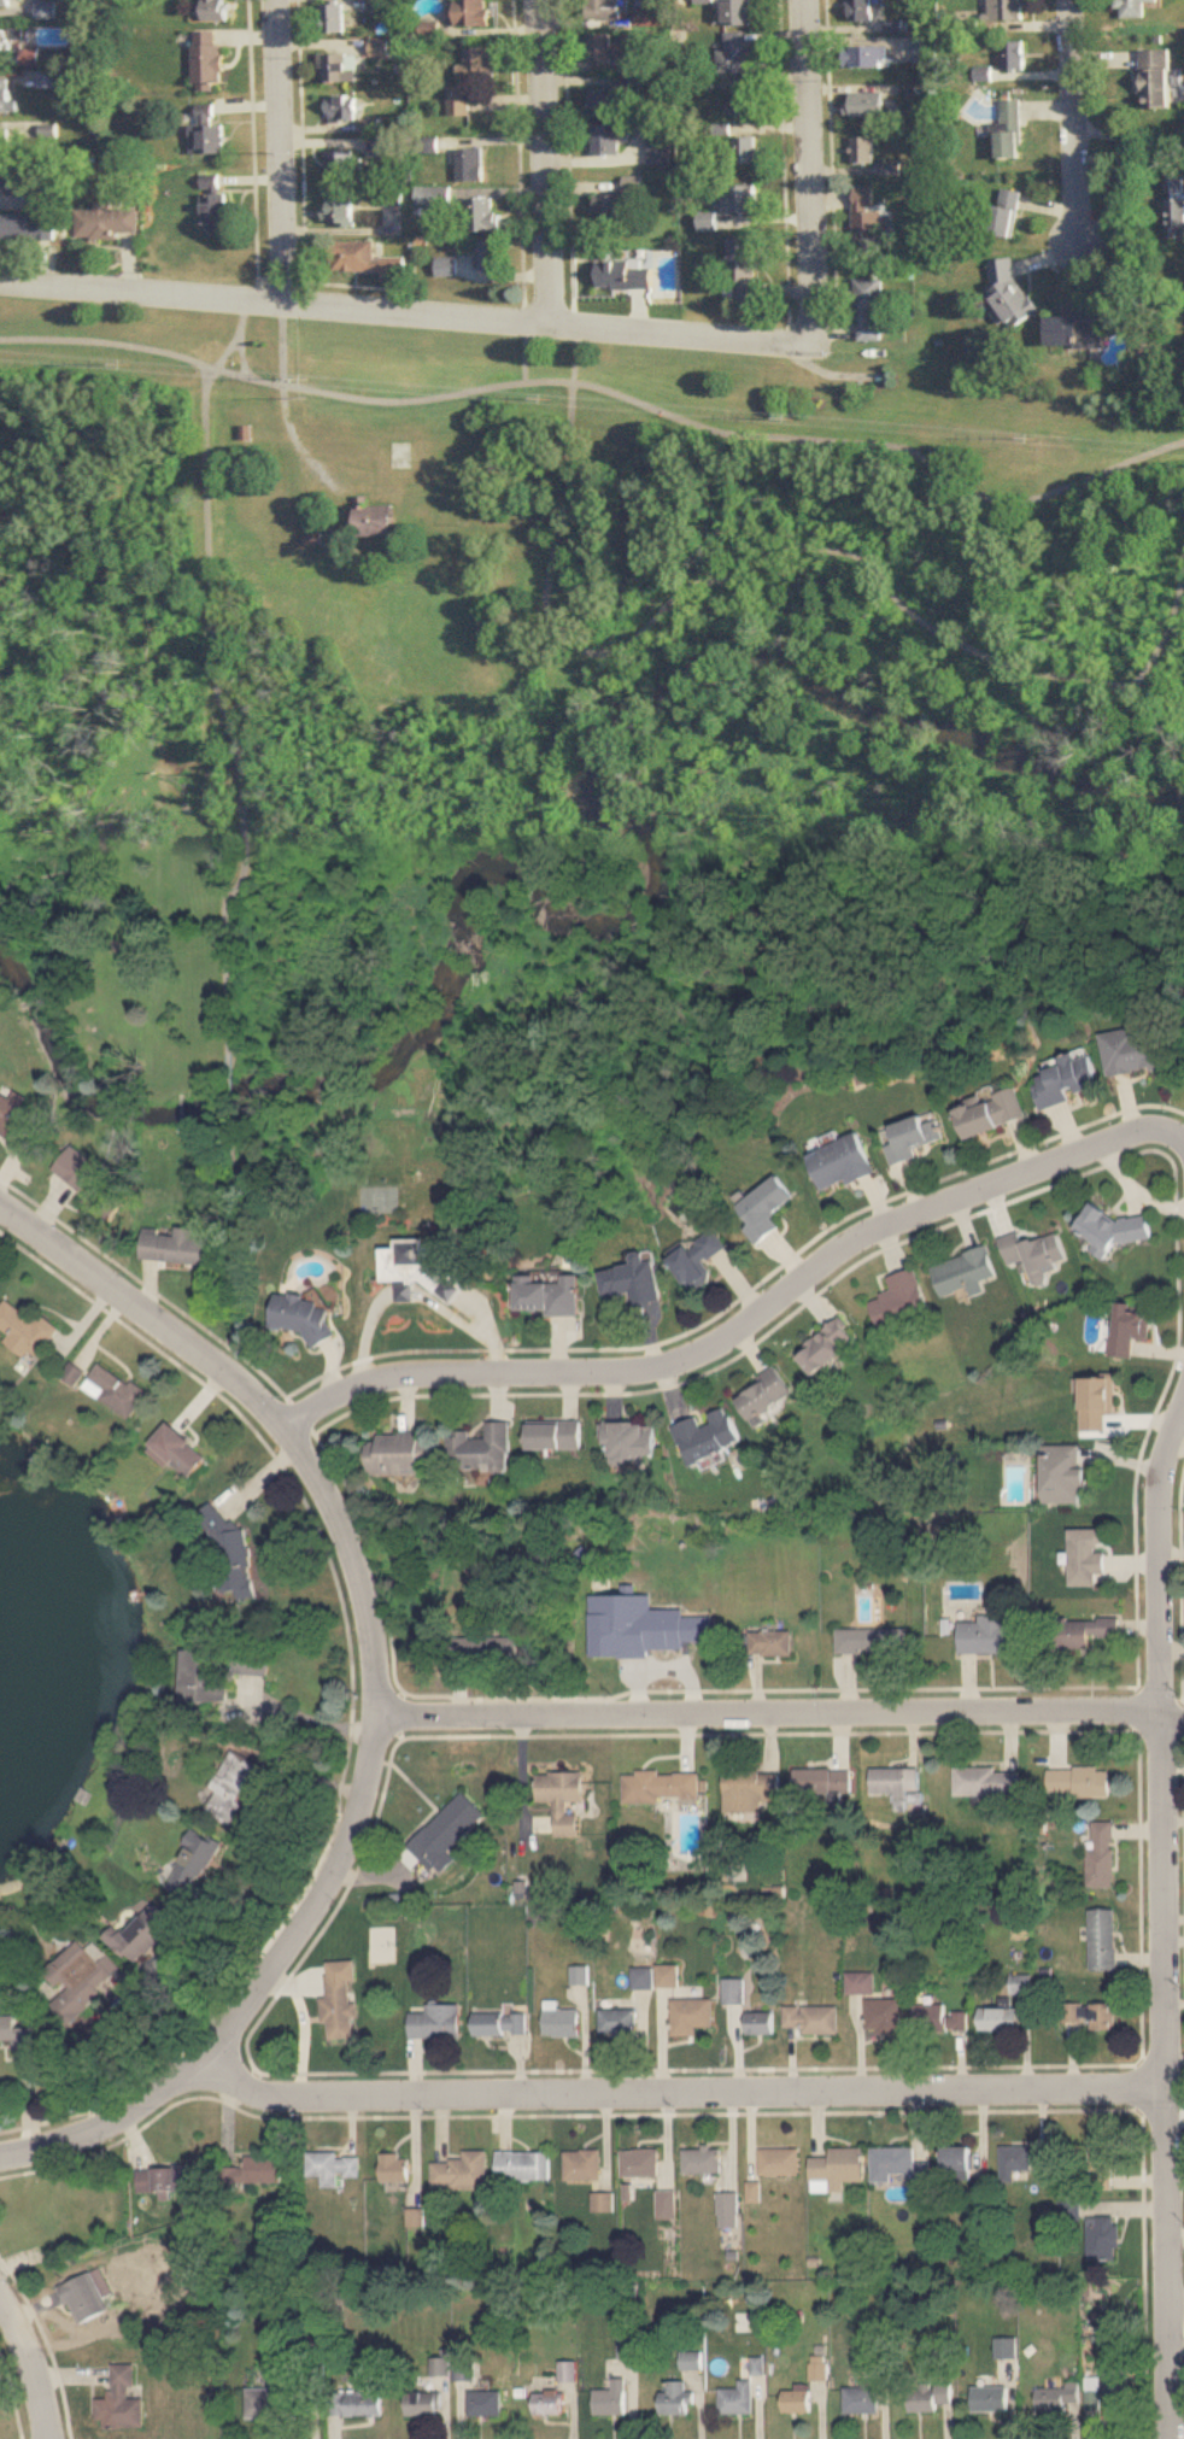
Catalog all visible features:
building: (12, 4)
building: (1133, 8)
building: (1010, 10)
building: (216, 11)
building: (605, 11)
building: (862, 11)
building: (739, 12)
building: (475, 13)
building: (334, 18)
building: (432, 30)
building: (10, 37)
building: (386, 49)
building: (603, 49)
building: (926, 51)
building: (735, 55)
building: (867, 57)
building: (1014, 57)
building: (30, 58)
building: (207, 63)
building: (339, 69)
building: (470, 78)
building: (51, 81)
building: (1156, 81)
building: (7, 98)
building: (744, 102)
building: (602, 104)
building: (869, 105)
building: (341, 109)
road: (1072, 123)
building: (1010, 131)
building: (206, 134)
road: (1127, 139)
building: (606, 141)
building: (5, 142)
building: (381, 147)
building: (864, 151)
road: (277, 152)
building: (660, 152)
building: (744, 152)
road: (543, 163)
building: (340, 165)
building: (470, 165)
road: (813, 170)
building: (7, 177)
building: (633, 184)
building: (391, 197)
building: (433, 197)
building: (742, 200)
building: (1174, 209)
building: (340, 211)
building: (611, 211)
building: (215, 213)
building: (1006, 213)
building: (481, 216)
building: (867, 219)
building: (708, 222)
building: (106, 223)
building: (28, 228)
building: (486, 254)
building: (363, 259)
building: (447, 266)
building: (744, 272)
building: (623, 275)
building: (869, 310)
road: (405, 313)
building: (1075, 333)
road: (234, 340)
road: (280, 345)
road: (522, 354)
road: (239, 358)
road: (604, 392)
building: (373, 520)
road: (792, 551)
road: (1074, 679)
park: (640, 705)
road: (225, 713)
river: (619, 922)
building: (1135, 1050)
building: (1067, 1079)
road: (227, 1091)
building: (992, 1113)
building: (20, 1124)
road: (1149, 1128)
building: (913, 1137)
building: (842, 1162)
building: (92, 1183)
building: (766, 1208)
building: (1114, 1227)
road: (233, 1239)
building: (175, 1247)
building: (1036, 1249)
building: (698, 1259)
building: (423, 1268)
building: (965, 1271)
building: (633, 1282)
building: (550, 1295)
building: (901, 1297)
building: (304, 1315)
building: (1131, 1325)
building: (25, 1329)
building: (827, 1344)
road: (717, 1347)
building: (74, 1373)
road: (266, 1379)
building: (115, 1389)
building: (766, 1391)
building: (867, 1391)
building: (1098, 1402)
road: (269, 1405)
building: (555, 1434)
building: (708, 1434)
building: (631, 1438)
building: (481, 1447)
building: (177, 1449)
building: (400, 1452)
building: (1063, 1471)
building: (1086, 1554)
building: (639, 1624)
building: (1080, 1630)
building: (983, 1635)
building: (871, 1640)
building: (772, 1642)
building: (485, 1647)
building: (252, 1661)
building: (204, 1673)
road: (781, 1711)
road: (304, 1717)
building: (822, 1781)
building: (896, 1781)
building: (987, 1781)
building: (1079, 1781)
building: (660, 1784)
building: (236, 1786)
building: (750, 1788)
building: (562, 1798)
building: (446, 1831)
building: (1102, 1854)
building: (194, 1868)
road: (1162, 1918)
building: (148, 1933)
building: (1103, 1939)
building: (82, 1975)
building: (668, 1975)
building: (643, 1976)
building: (862, 1982)
building: (734, 1989)
road: (254, 1995)
building: (340, 1999)
building: (1092, 2013)
building: (691, 2015)
building: (885, 2016)
building: (939, 2017)
building: (811, 2018)
building: (998, 2018)
building: (436, 2021)
building: (564, 2022)
building: (619, 2022)
building: (761, 2022)
building: (500, 2023)
building: (18, 2031)
road: (678, 2092)
building: (778, 2158)
building: (702, 2159)
building: (1024, 2159)
building: (959, 2160)
building: (1103, 2160)
building: (640, 2162)
building: (897, 2163)
building: (584, 2164)
building: (838, 2164)
building: (332, 2165)
building: (524, 2165)
building: (395, 2168)
building: (256, 2169)
building: (462, 2170)
building: (164, 2177)
building: (752, 2191)
building: (603, 2200)
building: (667, 2204)
building: (728, 2208)
building: (1103, 2238)
building: (86, 2297)
building: (1006, 2347)
building: (691, 2359)
road: (31, 2362)
building: (817, 2369)
building: (462, 2370)
building: (1109, 2384)
building: (930, 2394)
building: (1056, 2394)
building: (674, 2397)
building: (989, 2397)
building: (611, 2398)
building: (737, 2398)
building: (861, 2398)
building: (274, 2399)
building: (121, 2400)
building: (487, 2400)
building: (547, 2400)
building: (796, 2400)
building: (357, 2402)
building: (424, 2402)

